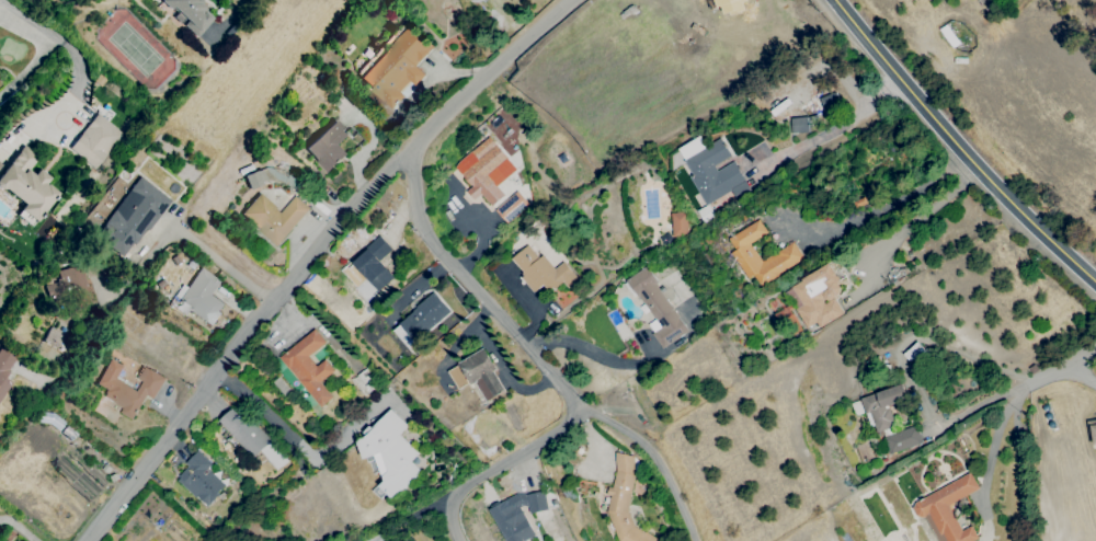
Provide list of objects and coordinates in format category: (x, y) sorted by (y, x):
building: (192, 15)
road: (227, 21)
road: (56, 38)
building: (400, 65)
road: (27, 68)
building: (800, 125)
road: (835, 127)
building: (96, 142)
road: (959, 146)
building: (330, 148)
building: (716, 172)
building: (487, 175)
building: (256, 181)
building: (30, 188)
road: (887, 208)
road: (921, 215)
building: (134, 218)
building: (275, 219)
building: (681, 226)
building: (789, 252)
road: (311, 255)
road: (152, 257)
building: (377, 265)
building: (545, 273)
building: (72, 289)
building: (205, 298)
building: (821, 298)
building: (659, 307)
building: (427, 318)
building: (58, 339)
road: (593, 354)
road: (538, 357)
road: (901, 362)
building: (311, 369)
building: (5, 370)
building: (483, 376)
road: (1080, 376)
building: (130, 390)
road: (267, 415)
road: (1000, 419)
building: (891, 423)
building: (1093, 426)
building: (248, 434)
building: (393, 454)
road: (650, 457)
building: (203, 479)
building: (624, 502)
building: (951, 510)
building: (518, 516)
road: (20, 531)
building: (410, 540)

